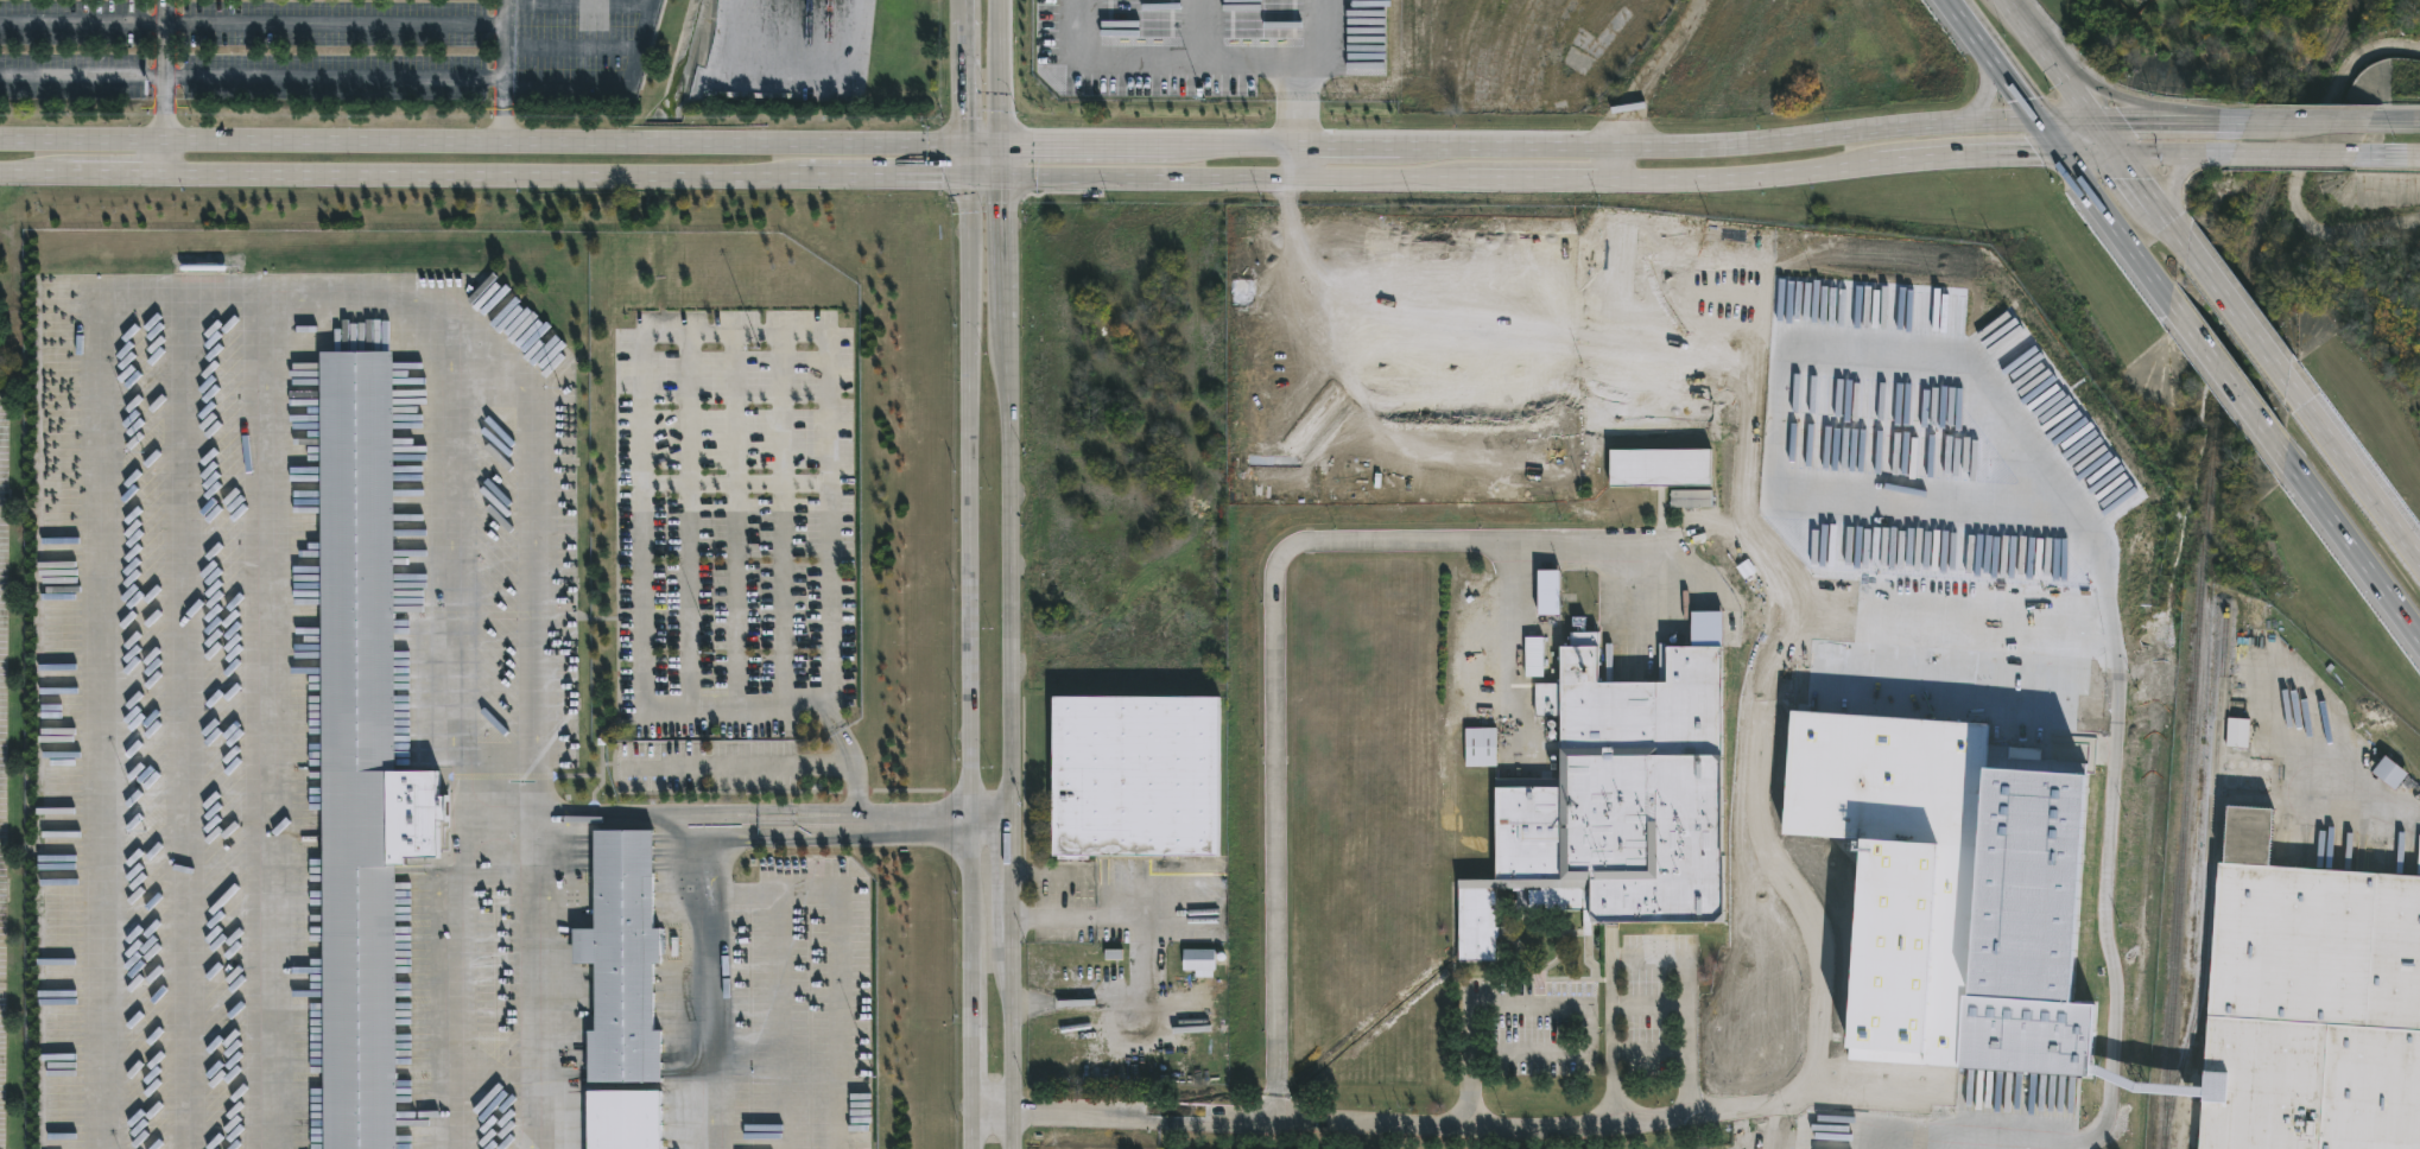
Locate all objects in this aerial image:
building: (2146, 0)
road: (964, 14)
road: (252, 25)
road: (2033, 31)
parking lot: (328, 53)
road: (785, 66)
road: (164, 71)
road: (1157, 71)
road: (503, 72)
road: (1001, 72)
road: (1316, 74)
road: (252, 77)
road: (1993, 85)
road: (967, 88)
road: (2078, 90)
road: (617, 100)
road: (2127, 100)
traffic signals: (2099, 118)
traffic signals: (2044, 119)
road: (2167, 120)
road: (2307, 123)
road: (2400, 123)
road: (2112, 137)
road: (483, 145)
road: (984, 146)
traffic signals: (1001, 146)
road: (1551, 146)
traffic signals: (968, 147)
traffic signals: (2070, 155)
road: (2175, 155)
road: (2301, 155)
road: (2397, 155)
traffic signals: (2126, 157)
road: (163, 158)
road: (2071, 158)
road: (2300, 160)
road: (968, 161)
road: (1001, 161)
road: (1303, 163)
road: (1613, 163)
road: (2177, 172)
road: (483, 176)
traffic signals: (968, 177)
road: (984, 177)
traffic signals: (1002, 177)
road: (1564, 179)
road: (2142, 180)
road: (2181, 233)
road: (2248, 326)
road: (683, 334)
road: (275, 363)
road: (2234, 386)
road: (969, 431)
building: (1661, 468)
road: (2356, 476)
road: (736, 484)
building: (1691, 499)
road: (688, 520)
road: (735, 520)
road: (781, 520)
road: (2352, 545)
railway: (2202, 561)
road: (451, 592)
building: (1548, 592)
road: (102, 634)
building: (1535, 654)
road: (1009, 662)
road: (1271, 668)
road: (1990, 719)
road: (837, 731)
building: (2238, 732)
building: (1482, 745)
road: (968, 753)
building: (362, 757)
road: (823, 764)
building: (2389, 772)
building: (1138, 774)
road: (2361, 793)
building: (1616, 801)
road: (989, 817)
road: (621, 819)
road: (784, 821)
road: (992, 866)
railway: (2205, 872)
road: (1053, 919)
building: (2027, 921)
road: (840, 957)
building: (1199, 959)
building: (623, 960)
road: (1151, 980)
road: (461, 982)
road: (531, 984)
road: (711, 984)
road: (967, 984)
road: (1034, 1002)
building: (2308, 1002)
road: (1541, 1004)
road: (1687, 1036)
road: (1610, 1039)
road: (2110, 1077)
building: (626, 1119)
road: (1463, 1124)
road: (2038, 1141)

